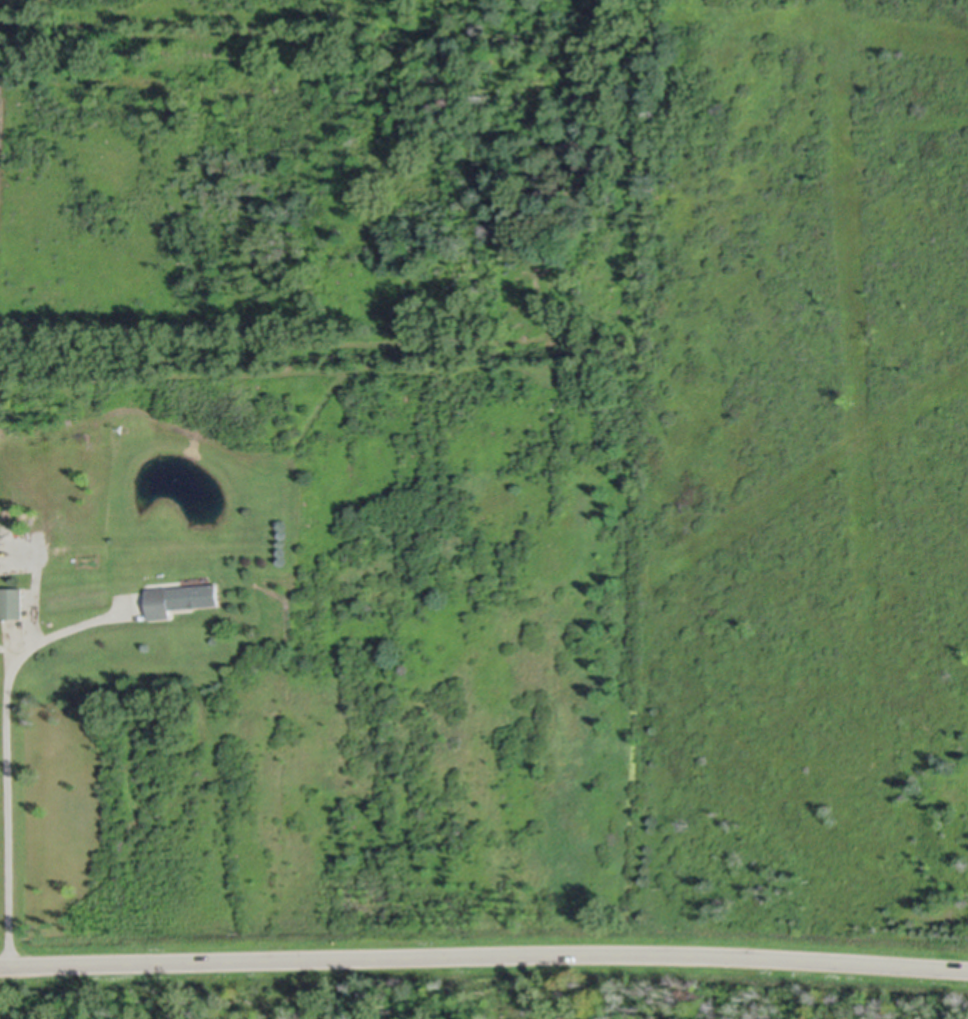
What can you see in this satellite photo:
building: (179, 597)
building: (10, 601)
road: (7, 750)
road: (484, 953)

